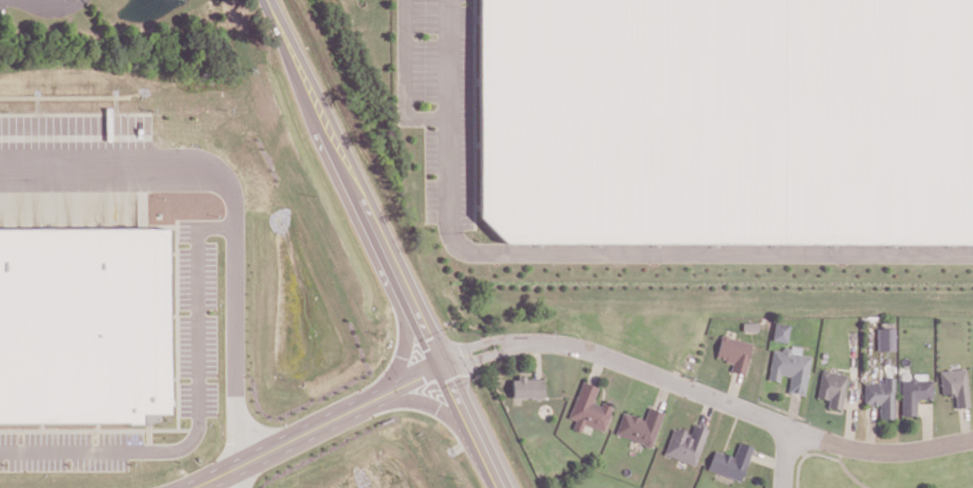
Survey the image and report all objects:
parking lot: (425, 15)
street lamp: (396, 37)
parking lot: (425, 69)
road: (405, 79)
street lamp: (396, 100)
building: (727, 120)
parking lot: (431, 149)
parking lot: (431, 200)
road: (223, 215)
road: (385, 244)
road: (592, 250)
building: (77, 316)
building: (780, 332)
building: (884, 339)
road: (481, 342)
building: (733, 352)
road: (484, 354)
road: (536, 358)
road: (597, 368)
building: (789, 368)
road: (660, 377)
building: (954, 385)
building: (527, 388)
building: (831, 388)
building: (912, 392)
road: (662, 393)
building: (880, 397)
road: (184, 406)
building: (588, 409)
road: (706, 410)
road: (335, 413)
road: (849, 417)
building: (639, 426)
road: (731, 428)
road: (869, 428)
building: (684, 445)
road: (881, 451)
road: (804, 455)
road: (785, 458)
road: (767, 459)
building: (730, 461)
road: (846, 470)
road: (203, 476)
road: (227, 476)

